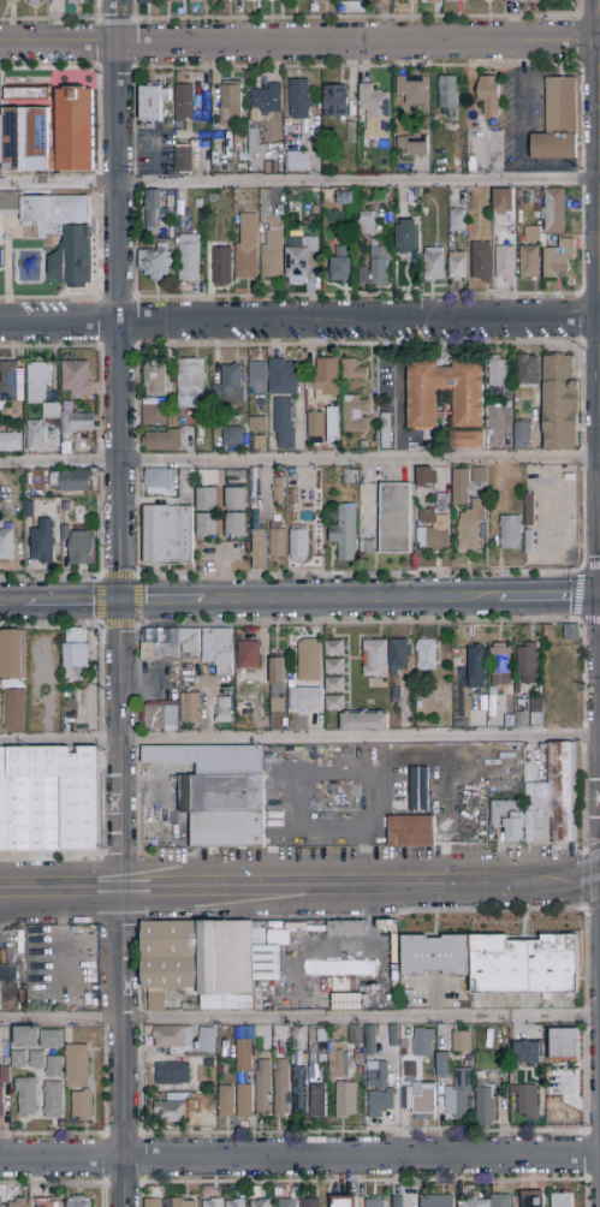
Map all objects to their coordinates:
building: (10, 0)
building: (198, 0)
building: (262, 0)
building: (350, 0)
building: (405, 0)
building: (430, 0)
building: (521, 0)
building: (148, 1)
building: (173, 1)
building: (321, 1)
building: (455, 1)
building: (34, 2)
building: (76, 2)
building: (61, 5)
road: (96, 10)
road: (589, 17)
road: (354, 18)
road: (48, 19)
road: (578, 41)
road: (132, 44)
road: (299, 44)
road: (589, 65)
road: (356, 66)
building: (412, 90)
building: (488, 95)
building: (447, 96)
building: (299, 100)
building: (265, 101)
building: (153, 102)
building: (227, 102)
building: (335, 102)
building: (184, 105)
building: (374, 113)
road: (581, 118)
road: (132, 121)
building: (557, 121)
road: (521, 125)
building: (47, 130)
building: (347, 131)
building: (411, 143)
building: (254, 144)
road: (599, 159)
building: (184, 160)
building: (297, 161)
road: (578, 179)
road: (133, 183)
road: (299, 183)
building: (458, 197)
building: (346, 201)
building: (503, 202)
building: (8, 203)
building: (554, 212)
building: (153, 213)
building: (457, 221)
building: (366, 224)
building: (64, 234)
building: (408, 237)
road: (581, 239)
building: (246, 246)
building: (273, 248)
building: (529, 254)
building: (505, 256)
building: (190, 258)
building: (299, 258)
building: (559, 260)
building: (154, 262)
building: (481, 262)
building: (433, 263)
building: (221, 266)
building: (458, 266)
building: (340, 268)
building: (376, 268)
road: (590, 292)
road: (304, 296)
road: (118, 301)
road: (299, 320)
road: (581, 326)
road: (304, 345)
building: (352, 370)
building: (528, 371)
building: (498, 373)
building: (259, 377)
building: (77, 379)
building: (283, 379)
building: (155, 380)
building: (327, 380)
building: (8, 381)
building: (190, 382)
building: (230, 385)
road: (581, 394)
building: (54, 400)
building: (444, 402)
building: (559, 404)
building: (423, 409)
building: (154, 414)
building: (355, 415)
building: (257, 424)
building: (285, 424)
building: (316, 427)
building: (333, 427)
building: (385, 432)
building: (36, 436)
building: (233, 436)
building: (522, 436)
building: (206, 438)
building: (465, 440)
building: (162, 441)
building: (10, 442)
building: (260, 442)
road: (580, 457)
road: (299, 459)
road: (136, 460)
building: (292, 471)
building: (284, 474)
building: (480, 476)
building: (236, 477)
building: (208, 478)
building: (427, 478)
building: (71, 481)
building: (159, 483)
building: (254, 488)
building: (463, 489)
building: (278, 493)
building: (207, 499)
building: (236, 499)
building: (444, 503)
building: (29, 510)
building: (530, 511)
road: (582, 517)
building: (277, 518)
building: (396, 519)
road: (136, 523)
building: (207, 525)
building: (237, 525)
building: (470, 529)
building: (433, 533)
building: (65, 534)
building: (345, 534)
building: (510, 534)
building: (167, 536)
building: (530, 542)
building: (42, 543)
building: (278, 543)
building: (299, 543)
building: (6, 546)
building: (82, 546)
building: (367, 547)
building: (259, 549)
road: (590, 566)
road: (358, 573)
road: (548, 599)
road: (350, 601)
road: (71, 602)
road: (161, 602)
road: (12, 603)
building: (572, 634)
building: (208, 646)
building: (334, 648)
building: (159, 652)
building: (12, 655)
building: (427, 655)
building: (76, 656)
building: (249, 656)
building: (399, 656)
building: (375, 659)
building: (309, 661)
building: (528, 661)
building: (500, 665)
building: (334, 667)
building: (476, 668)
building: (278, 674)
building: (334, 685)
building: (397, 694)
building: (303, 697)
building: (275, 703)
building: (334, 703)
building: (190, 708)
building: (14, 712)
building: (222, 712)
building: (536, 714)
building: (160, 719)
building: (522, 720)
building: (364, 721)
building: (510, 721)
road: (119, 739)
road: (299, 739)
building: (420, 790)
building: (220, 792)
building: (352, 792)
building: (322, 793)
building: (338, 793)
building: (35, 798)
building: (81, 799)
building: (554, 799)
building: (4, 802)
building: (501, 810)
building: (513, 827)
building: (411, 831)
railway: (301, 880)
road: (121, 882)
railway: (553, 886)
road: (362, 887)
road: (60, 888)
railway: (253, 892)
railway: (191, 910)
building: (344, 927)
building: (257, 932)
building: (435, 956)
building: (391, 959)
building: (207, 963)
building: (523, 964)
building: (343, 965)
building: (345, 1000)
road: (299, 1017)
building: (356, 1035)
building: (321, 1036)
building: (394, 1036)
building: (25, 1037)
building: (173, 1039)
building: (51, 1040)
building: (370, 1040)
building: (207, 1041)
building: (423, 1042)
building: (462, 1042)
building: (404, 1045)
building: (565, 1046)
road: (123, 1047)
building: (245, 1052)
building: (528, 1053)
building: (304, 1059)
building: (321, 1059)
building: (358, 1059)
building: (18, 1060)
building: (36, 1060)
building: (6, 1062)
building: (297, 1062)
building: (338, 1063)
building: (468, 1064)
building: (442, 1065)
building: (77, 1066)
building: (54, 1068)
building: (405, 1070)
building: (172, 1075)
building: (376, 1075)
building: (5, 1076)
building: (245, 1081)
building: (262, 1089)
building: (281, 1089)
building: (299, 1089)
building: (458, 1094)
building: (26, 1098)
building: (53, 1100)
building: (317, 1100)
building: (406, 1100)
building: (527, 1100)
building: (244, 1101)
building: (345, 1101)
building: (424, 1101)
building: (226, 1102)
building: (380, 1102)
building: (485, 1102)
building: (1, 1104)
building: (82, 1105)
building: (174, 1111)
road: (299, 1158)
building: (533, 1200)
building: (562, 1200)
building: (344, 1201)
building: (398, 1201)
building: (438, 1201)
building: (501, 1201)
building: (1, 1202)
building: (79, 1202)
building: (179, 1202)
building: (374, 1202)
building: (17, 1203)
building: (47, 1203)
building: (154, 1203)
building: (213, 1203)
building: (236, 1203)
building: (260, 1203)
building: (286, 1203)
building: (311, 1203)
building: (475, 1203)

